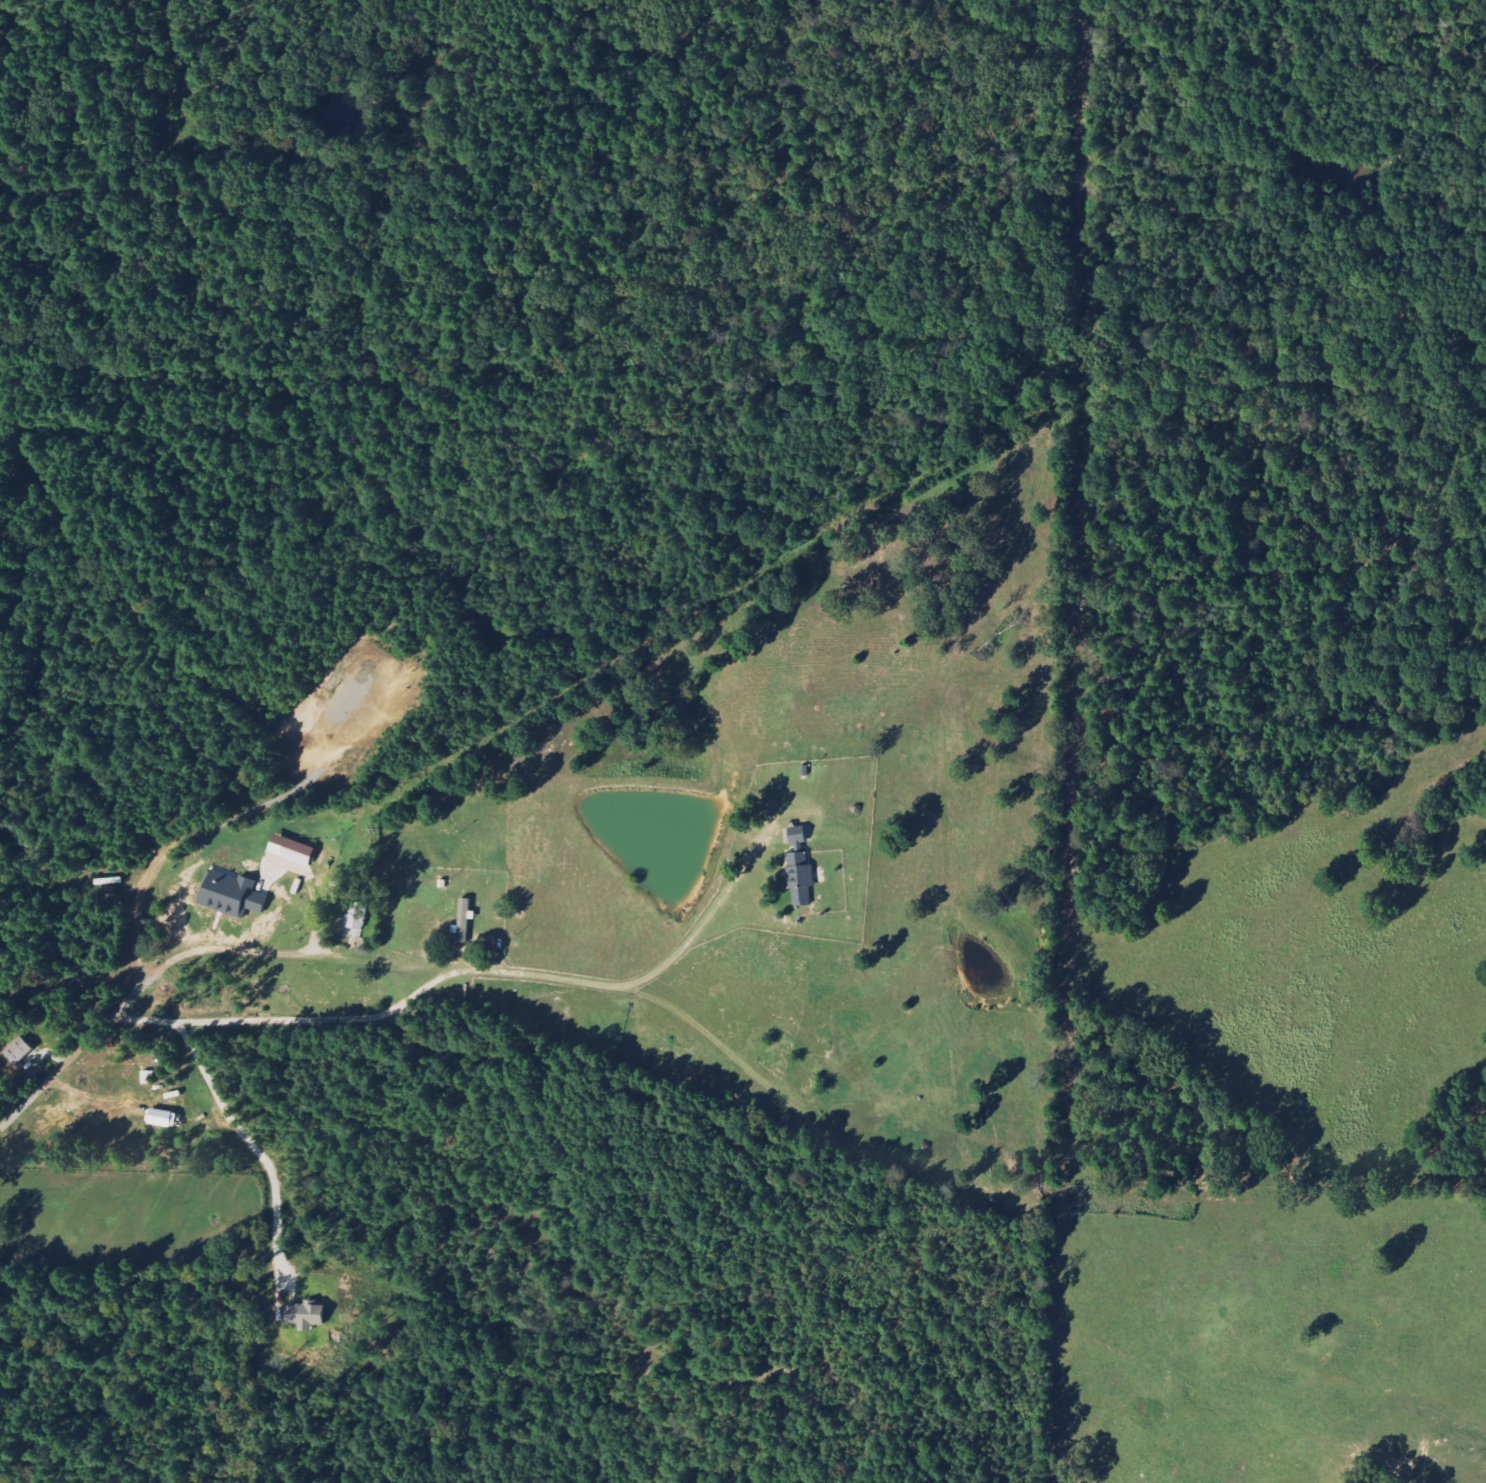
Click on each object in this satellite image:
building: (293, 849)
building: (801, 878)
building: (233, 895)
building: (358, 915)
road: (397, 1006)
building: (164, 1118)
building: (306, 1315)

